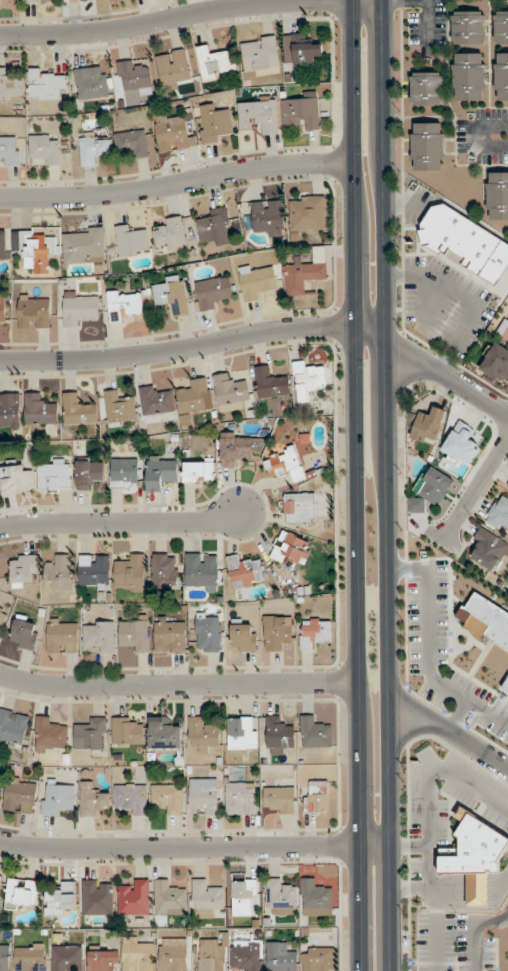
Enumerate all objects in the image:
building: (69, 0)
building: (39, 1)
road: (175, 18)
road: (427, 23)
building: (467, 27)
building: (500, 27)
building: (300, 51)
building: (260, 56)
building: (215, 62)
building: (173, 67)
building: (501, 76)
building: (468, 77)
building: (91, 82)
building: (45, 84)
building: (10, 86)
building: (427, 88)
building: (302, 113)
building: (258, 116)
building: (214, 123)
building: (172, 134)
road: (476, 136)
building: (132, 143)
building: (426, 147)
building: (93, 149)
building: (43, 150)
building: (9, 151)
road: (176, 181)
building: (497, 196)
building: (309, 213)
building: (268, 218)
building: (213, 228)
building: (170, 235)
building: (130, 241)
building: (464, 244)
building: (83, 246)
building: (4, 247)
building: (33, 251)
building: (305, 273)
building: (257, 283)
building: (212, 292)
building: (170, 295)
building: (124, 305)
building: (80, 308)
building: (2, 309)
building: (33, 311)
building: (504, 330)
road: (369, 332)
road: (177, 348)
building: (495, 363)
road: (446, 376)
building: (307, 379)
building: (270, 383)
building: (230, 392)
building: (194, 397)
building: (156, 401)
building: (119, 408)
building: (10, 410)
building: (39, 410)
building: (78, 410)
building: (428, 426)
building: (460, 444)
building: (239, 450)
building: (284, 466)
building: (198, 471)
building: (160, 474)
building: (87, 475)
building: (124, 475)
building: (53, 476)
building: (15, 479)
road: (356, 485)
road: (384, 485)
building: (507, 485)
road: (475, 488)
building: (430, 490)
building: (298, 509)
building: (499, 513)
road: (119, 522)
building: (291, 549)
building: (489, 551)
building: (22, 570)
building: (93, 570)
building: (164, 571)
building: (201, 572)
building: (245, 572)
building: (59, 573)
building: (130, 573)
building: (484, 619)
building: (2, 620)
building: (207, 632)
building: (276, 632)
building: (314, 632)
building: (170, 634)
building: (24, 635)
building: (134, 635)
building: (61, 637)
building: (97, 637)
building: (243, 638)
road: (178, 683)
road: (414, 707)
building: (12, 727)
building: (126, 731)
building: (241, 733)
building: (314, 733)
road: (409, 733)
building: (163, 734)
building: (48, 735)
building: (91, 735)
building: (277, 735)
building: (202, 736)
road: (475, 748)
building: (204, 796)
building: (19, 797)
building: (56, 797)
building: (317, 797)
building: (167, 798)
building: (92, 799)
building: (131, 799)
building: (241, 799)
building: (277, 800)
road: (193, 846)
building: (474, 857)
building: (21, 894)
building: (315, 896)
building: (242, 897)
building: (97, 898)
building: (134, 898)
building: (280, 898)
building: (59, 899)
building: (169, 899)
building: (205, 899)
road: (475, 928)
road: (436, 942)
parking lot: (453, 943)
building: (171, 954)
building: (137, 955)
building: (210, 955)
building: (246, 955)
building: (30, 957)
building: (280, 957)
building: (4, 958)
building: (66, 958)
building: (317, 959)
building: (102, 960)

